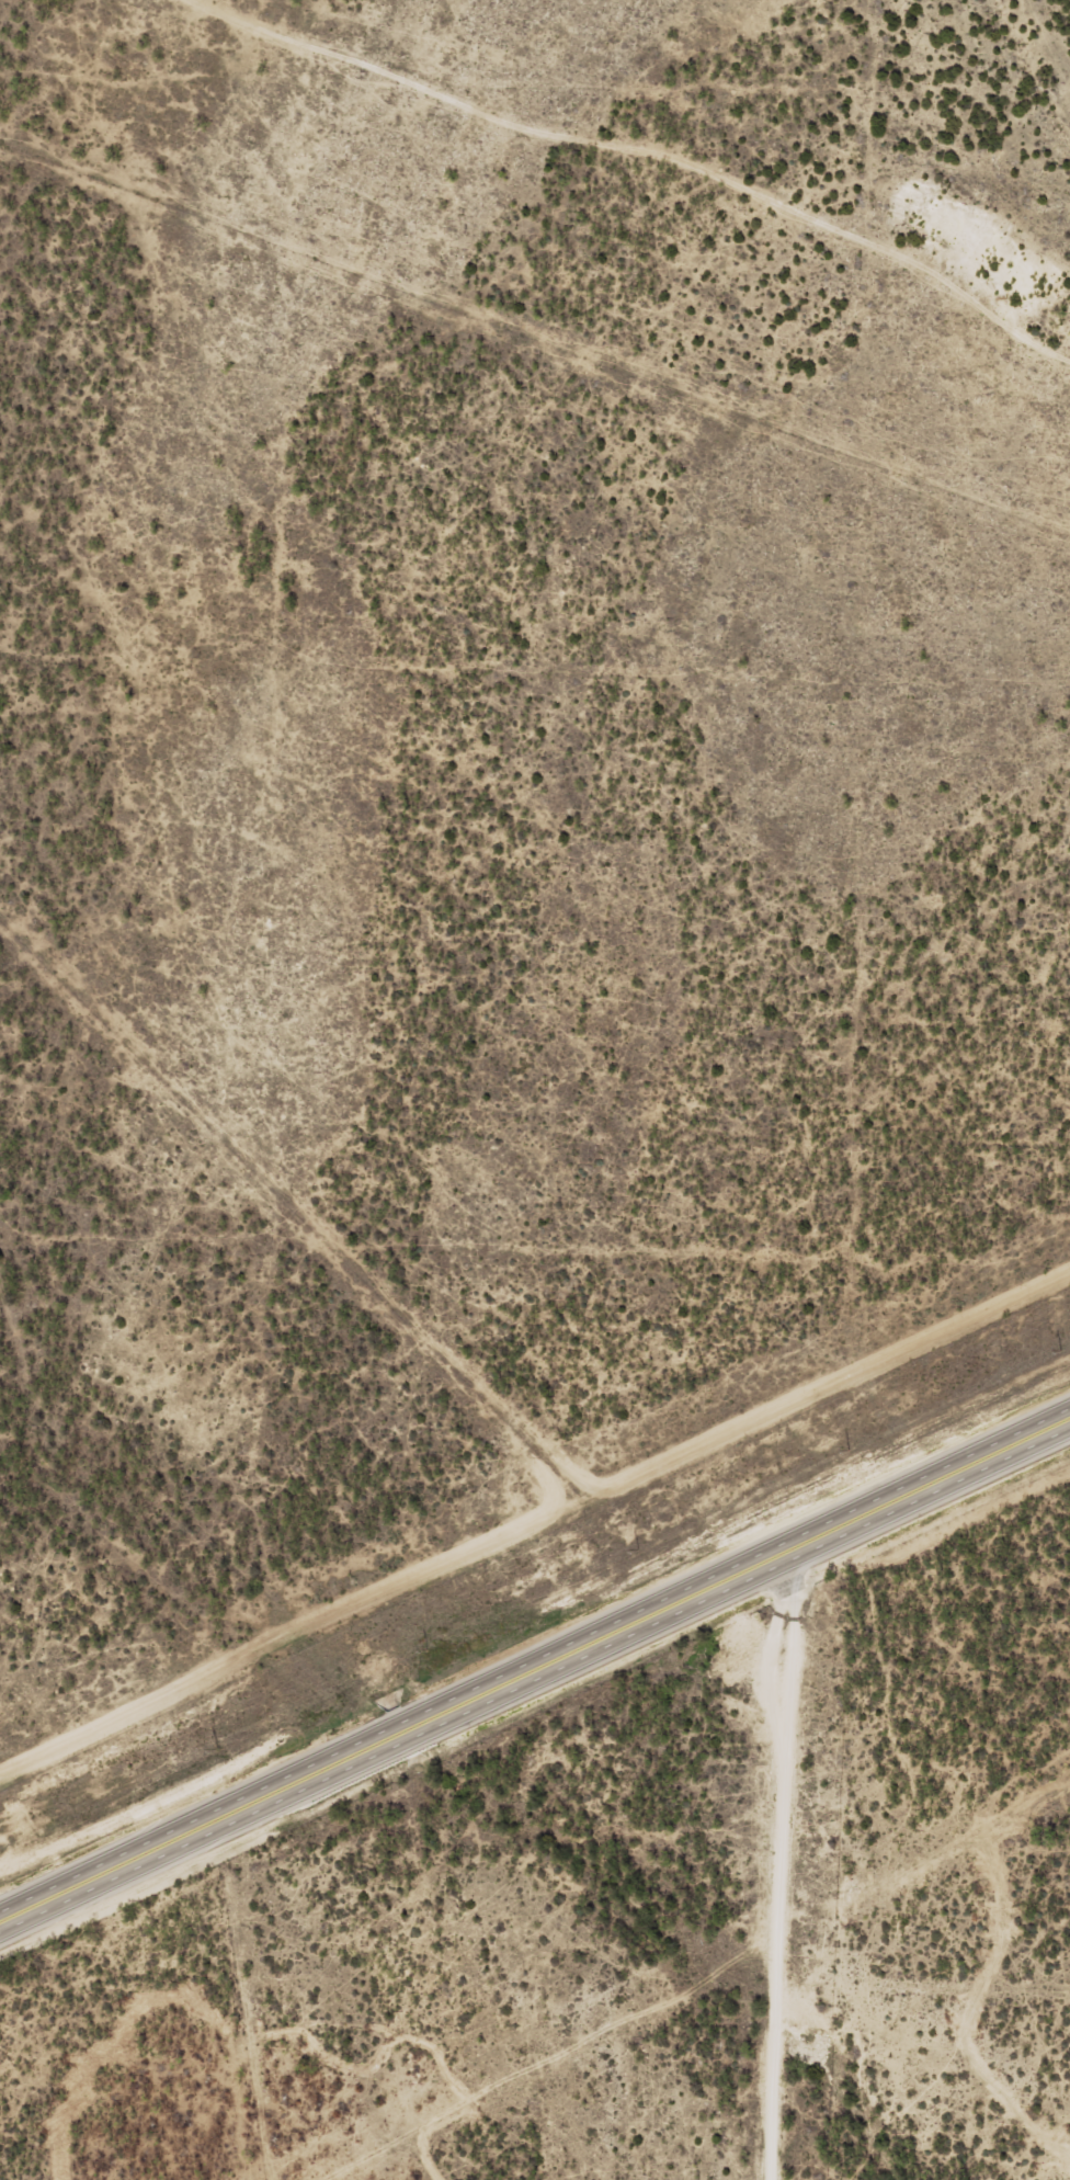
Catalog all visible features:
road: (618, 167)
power tower: (1055, 1350)
power tower: (846, 1449)
power tower: (636, 1548)
power tower: (424, 1648)
road: (534, 1670)
power tower: (214, 1748)
road: (792, 1863)

